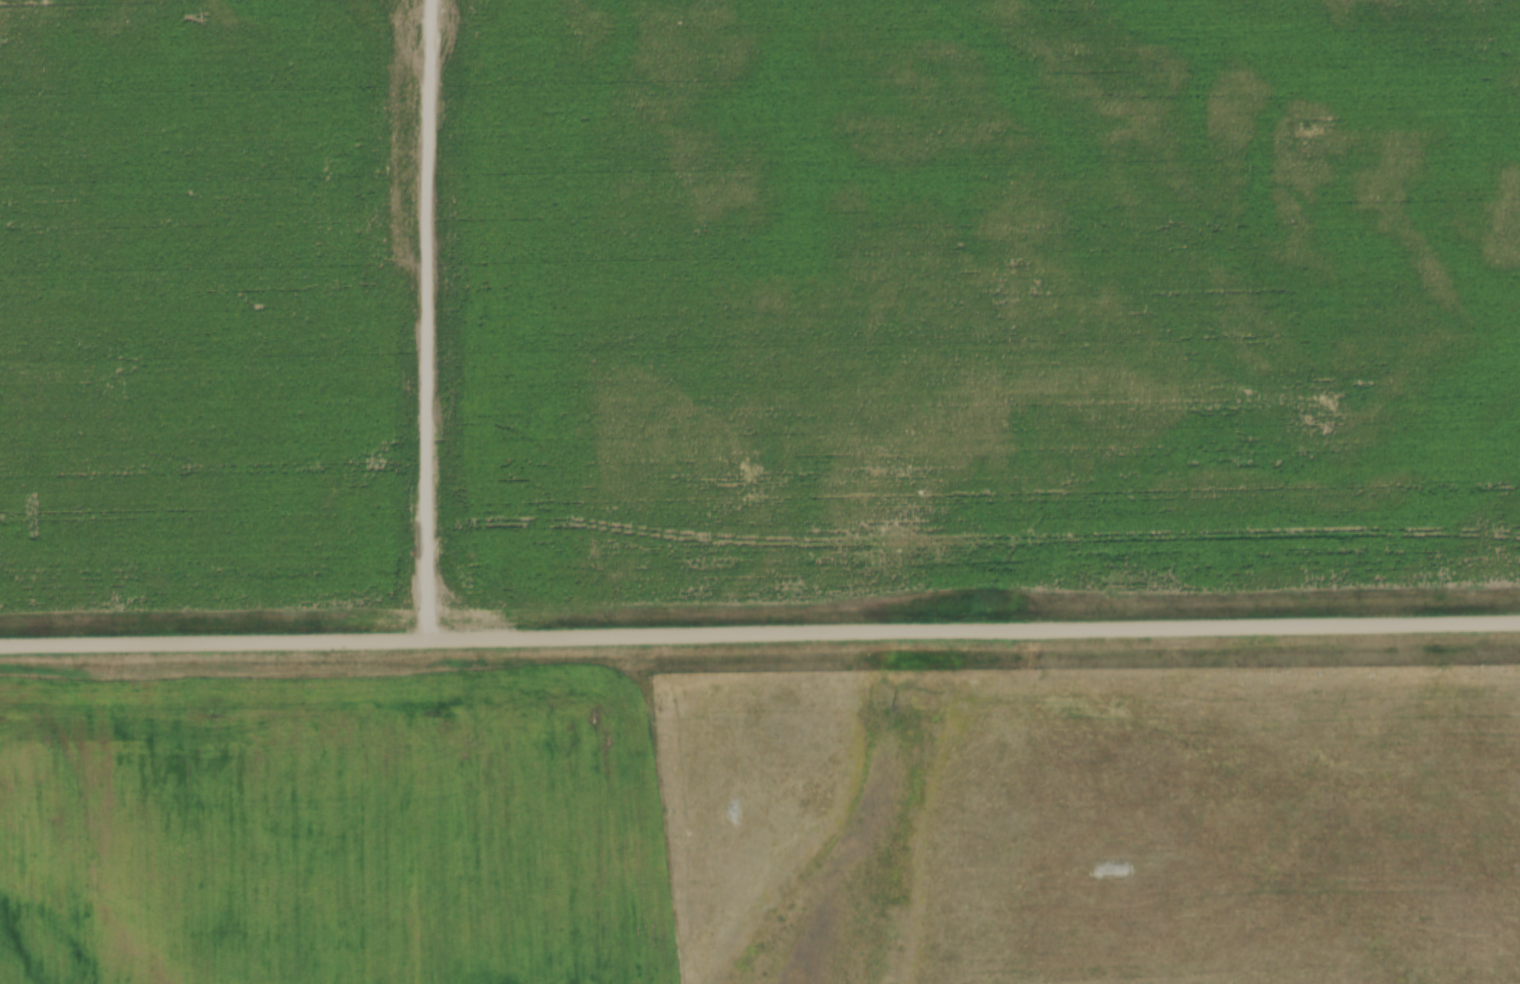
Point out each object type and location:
road: (760, 635)
road: (968, 804)

